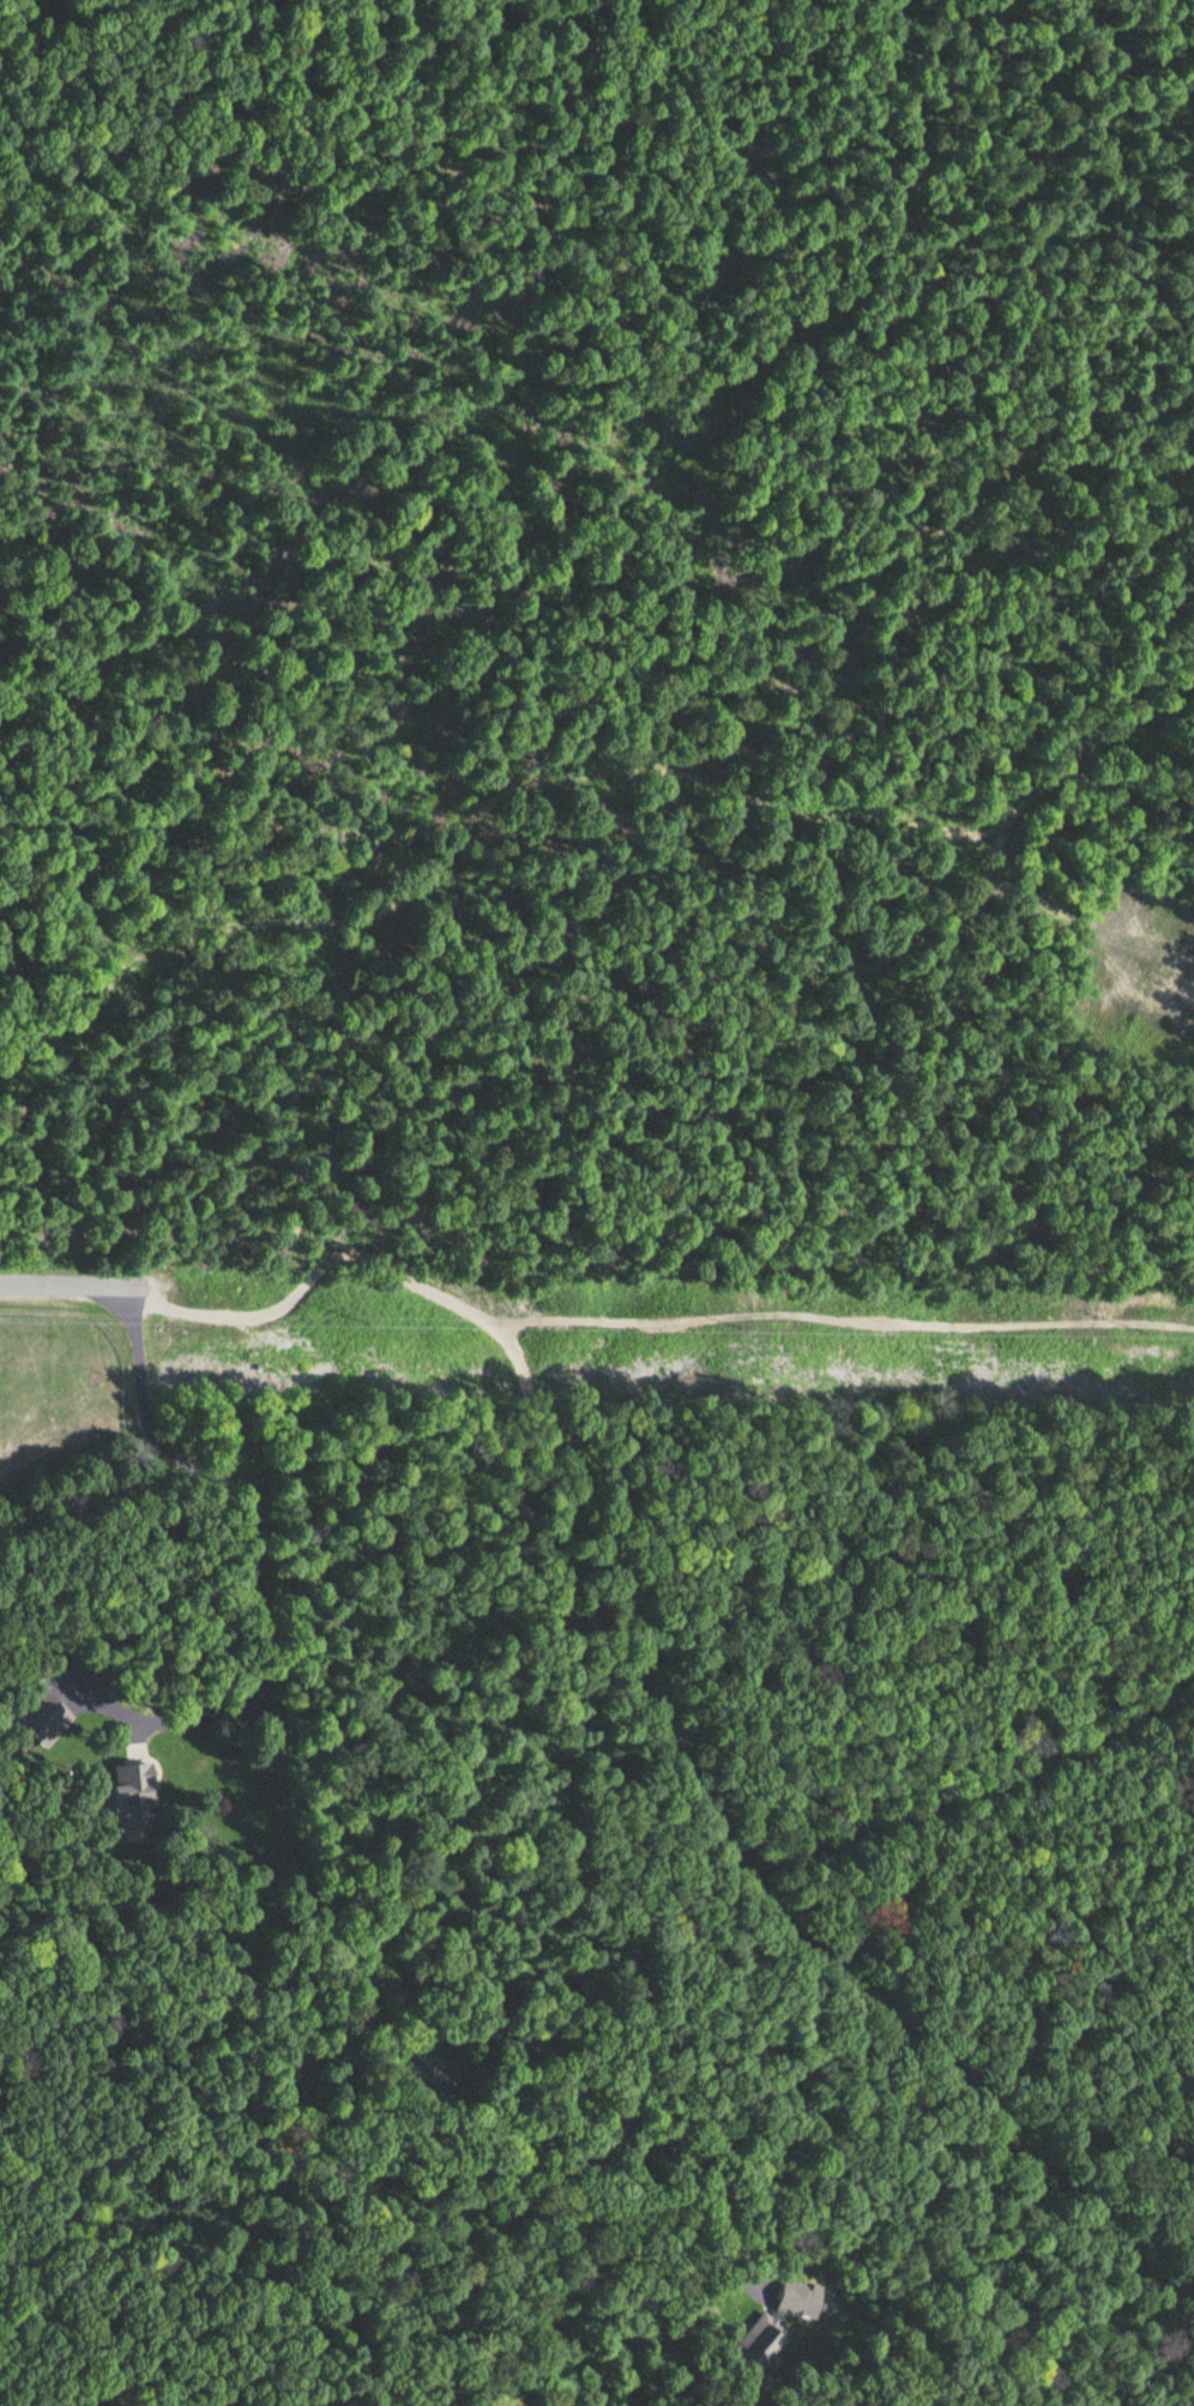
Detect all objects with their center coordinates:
road: (581, 752)
petroleum well: (1157, 979)
road: (60, 1284)
road: (646, 1702)
road: (266, 1712)
building: (44, 1718)
road: (984, 1787)
building: (131, 1796)
road: (239, 2116)
building: (792, 2296)
building: (760, 2341)

